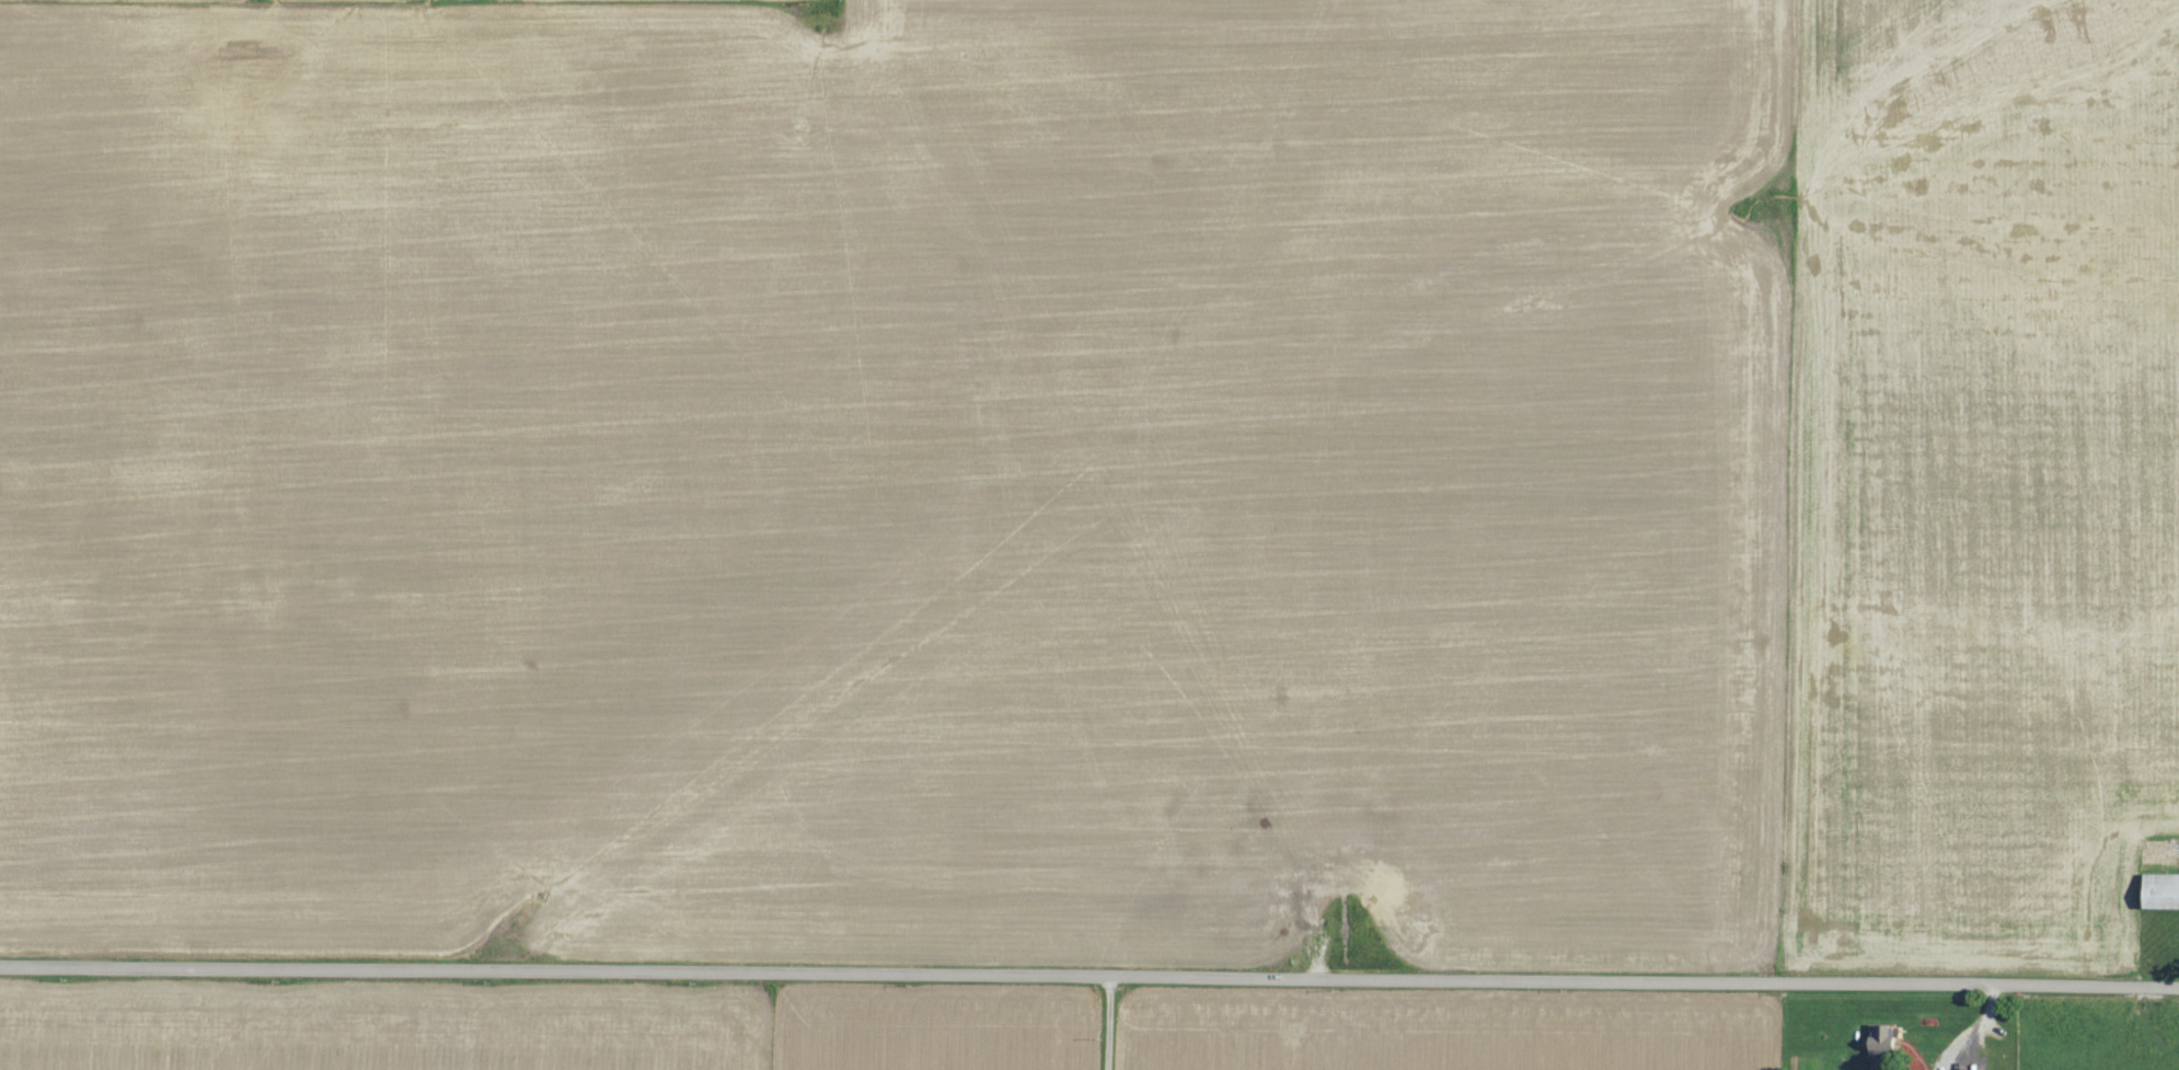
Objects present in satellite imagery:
building: (2161, 891)
road: (1089, 974)
road: (1109, 1022)
road: (1981, 1031)

